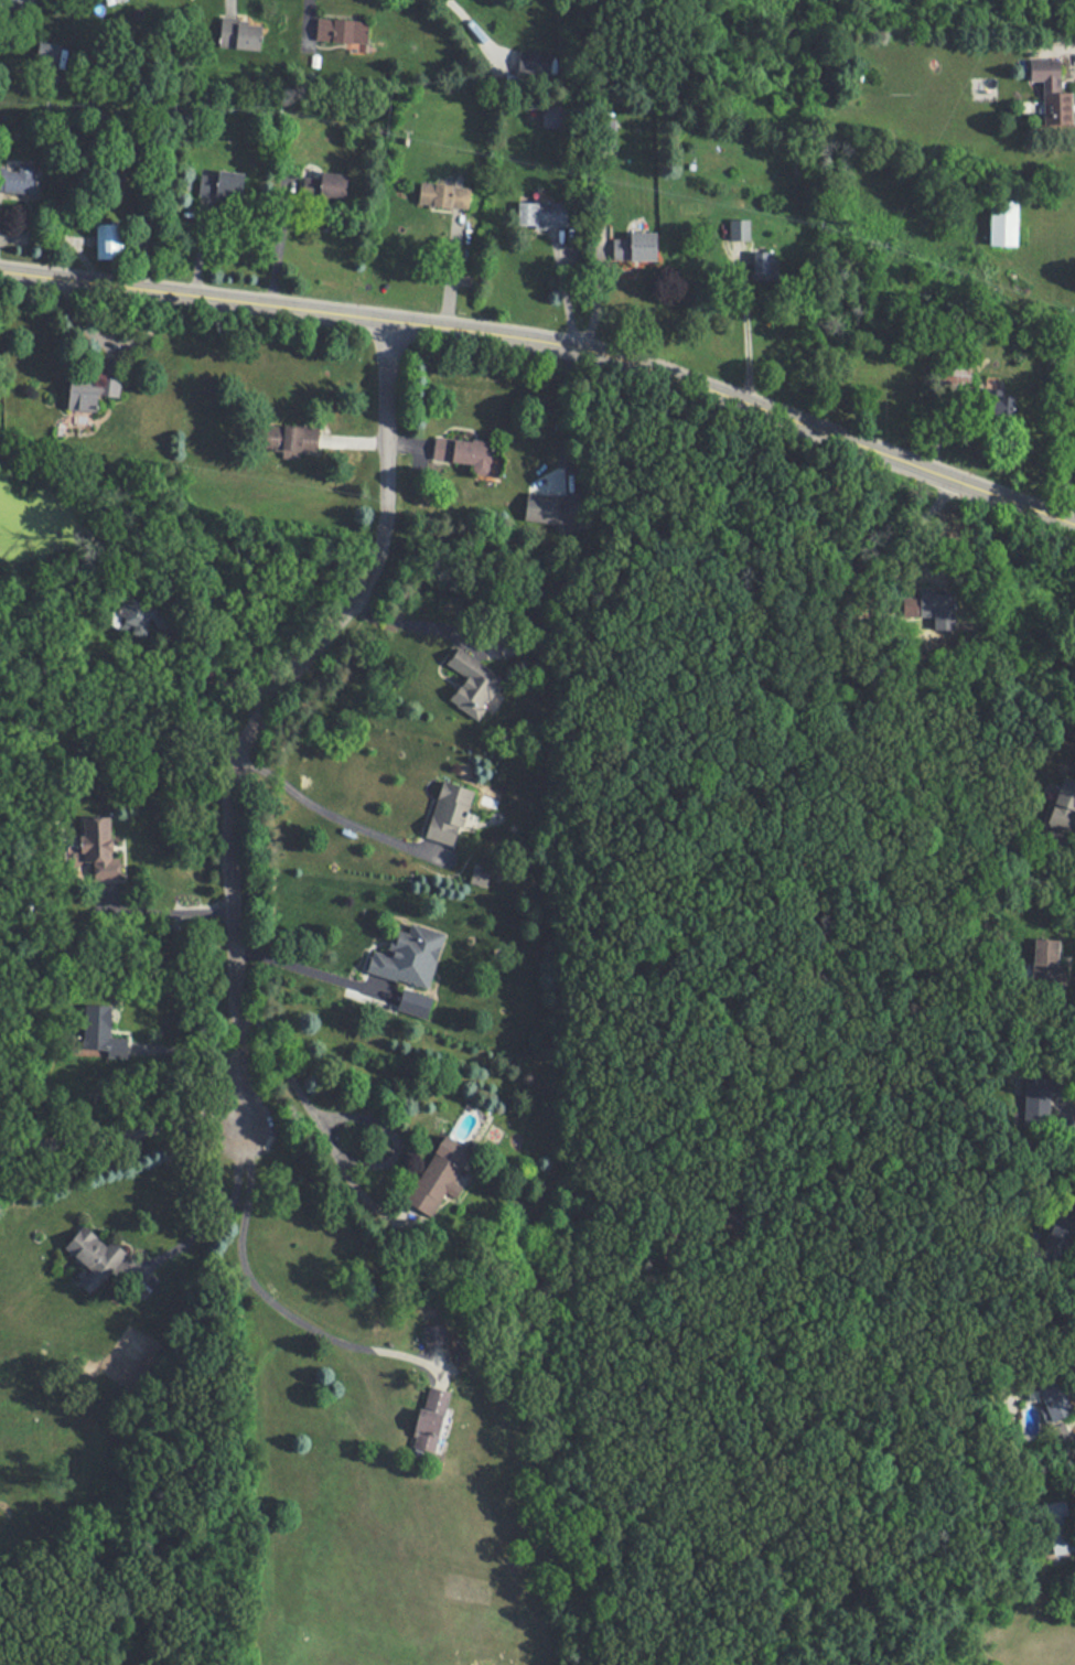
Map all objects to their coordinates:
road: (474, 28)
building: (343, 31)
building: (240, 33)
road: (1058, 43)
building: (1054, 93)
building: (555, 117)
building: (20, 180)
building: (335, 184)
building: (223, 185)
building: (442, 195)
building: (542, 213)
building: (1007, 222)
building: (111, 240)
road: (275, 241)
building: (637, 246)
building: (746, 247)
road: (744, 330)
road: (551, 342)
building: (92, 391)
building: (293, 440)
building: (464, 452)
road: (1069, 463)
building: (549, 508)
building: (932, 604)
building: (143, 617)
road: (412, 624)
road: (176, 647)
building: (473, 681)
road: (252, 705)
building: (1064, 805)
building: (450, 813)
road: (329, 815)
road: (1061, 846)
building: (99, 848)
road: (162, 912)
building: (1045, 949)
building: (410, 955)
road: (303, 970)
building: (100, 1029)
road: (1069, 1114)
road: (327, 1143)
building: (440, 1177)
road: (219, 1217)
building: (95, 1256)
road: (260, 1309)
building: (434, 1335)
building: (1057, 1399)
building: (434, 1419)
building: (1055, 1526)

